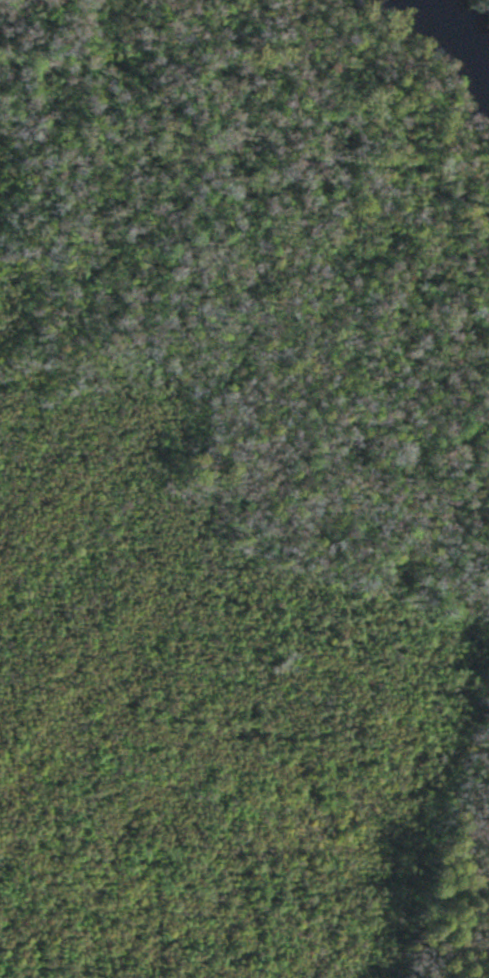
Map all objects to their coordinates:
river: (444, 40)

